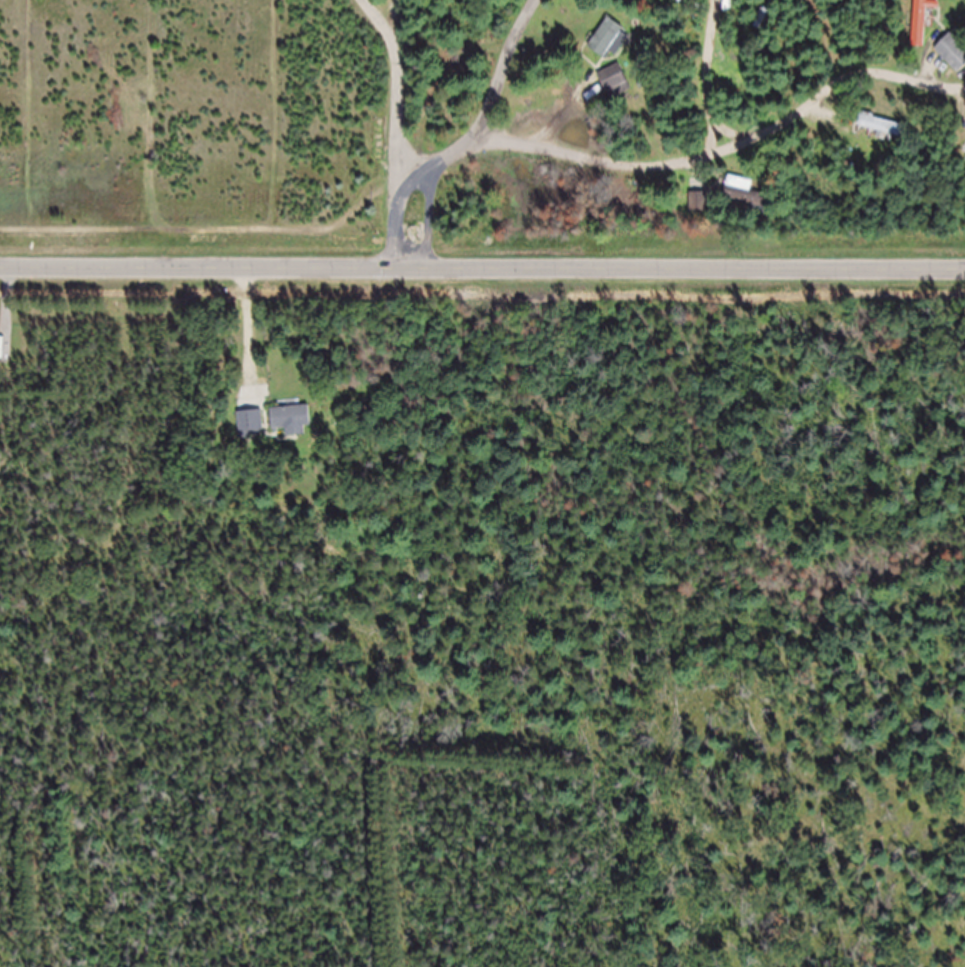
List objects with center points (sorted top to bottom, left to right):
building: (704, 3)
building: (762, 28)
building: (920, 29)
building: (605, 47)
building: (952, 62)
road: (503, 73)
building: (614, 92)
road: (398, 132)
building: (881, 136)
road: (417, 159)
road: (713, 161)
road: (417, 181)
building: (745, 204)
building: (698, 212)
road: (482, 278)
building: (291, 428)
building: (250, 431)

